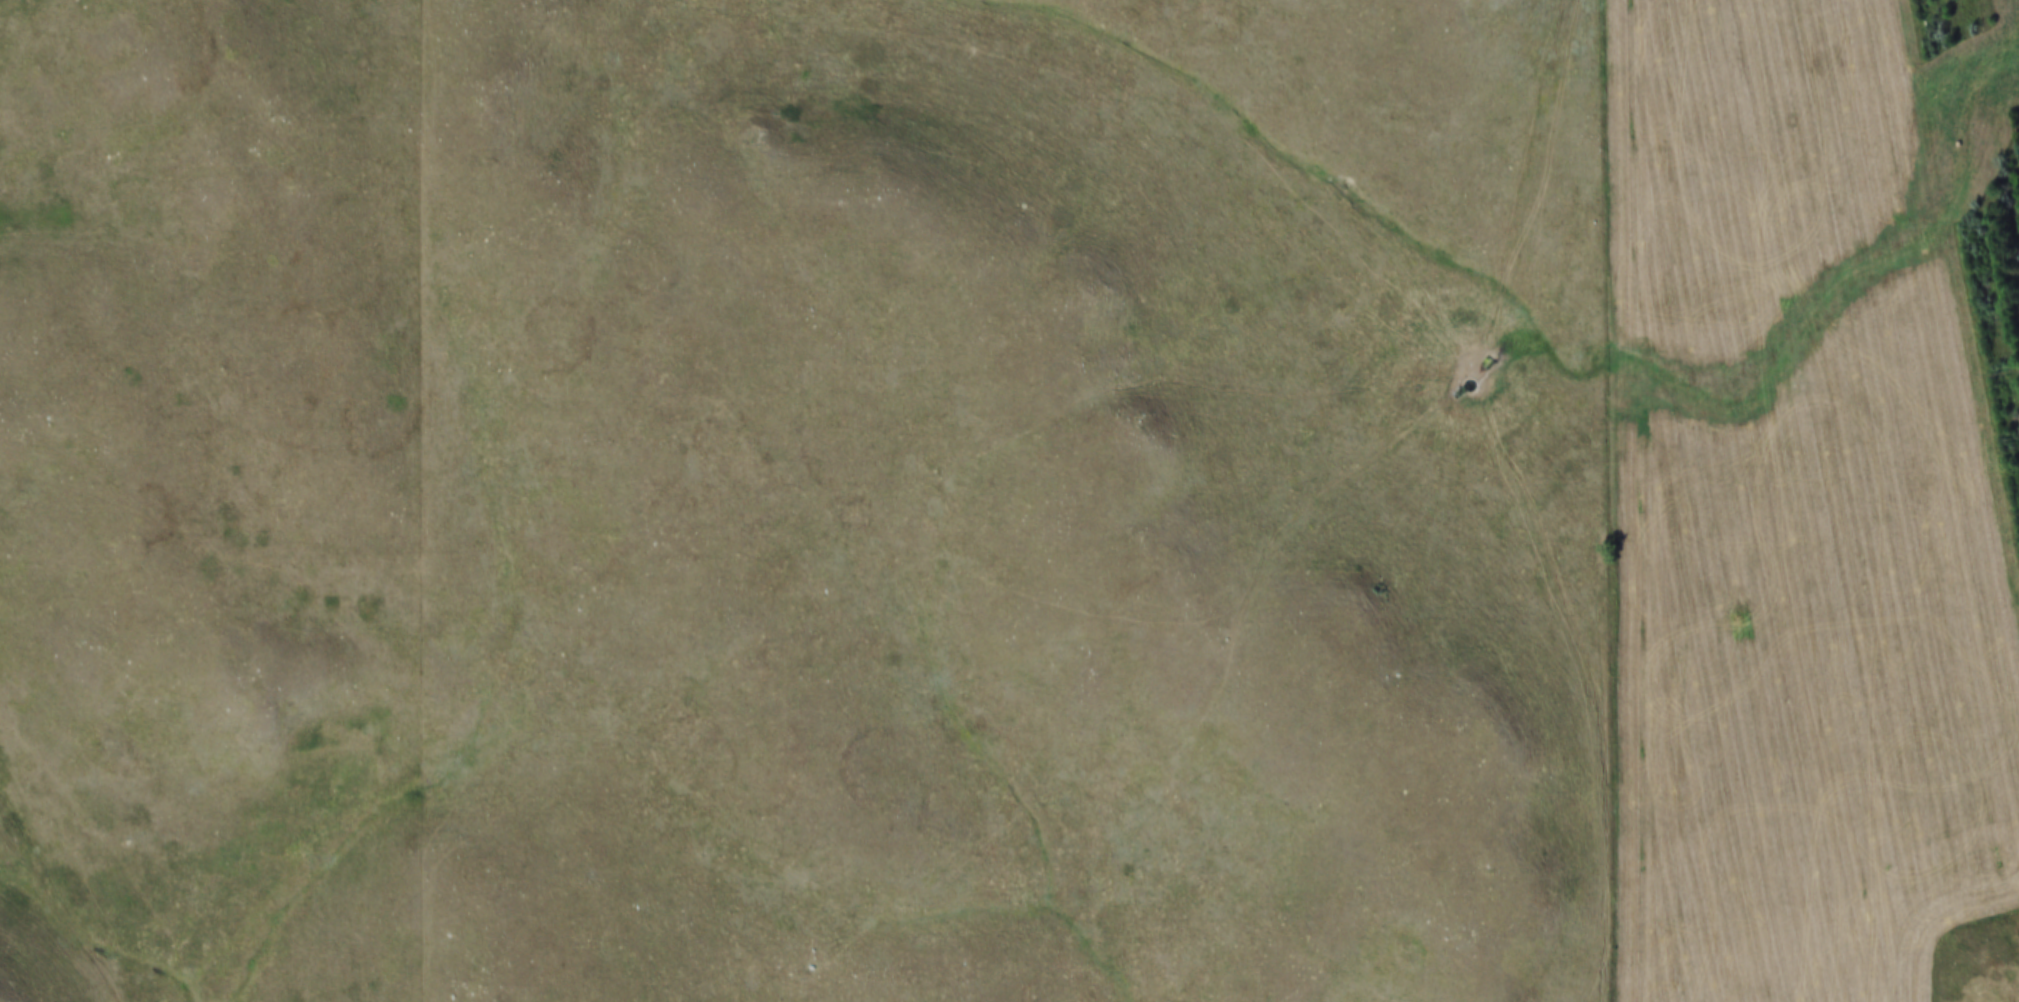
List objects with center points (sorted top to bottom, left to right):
road: (425, 501)

